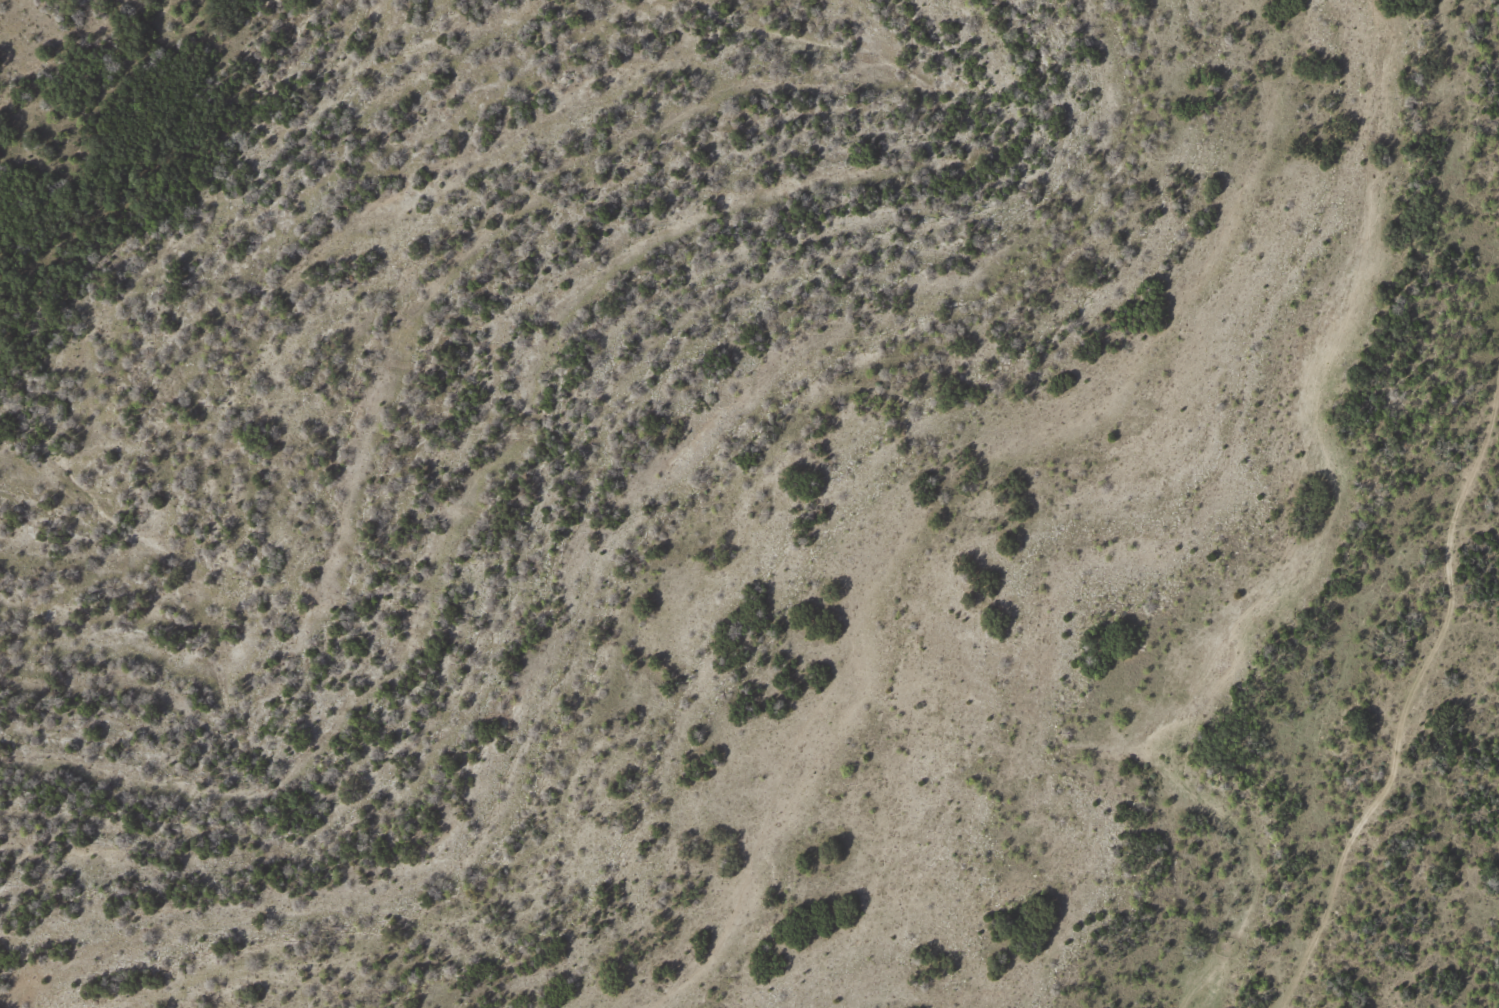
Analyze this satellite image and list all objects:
road: (1378, 659)

